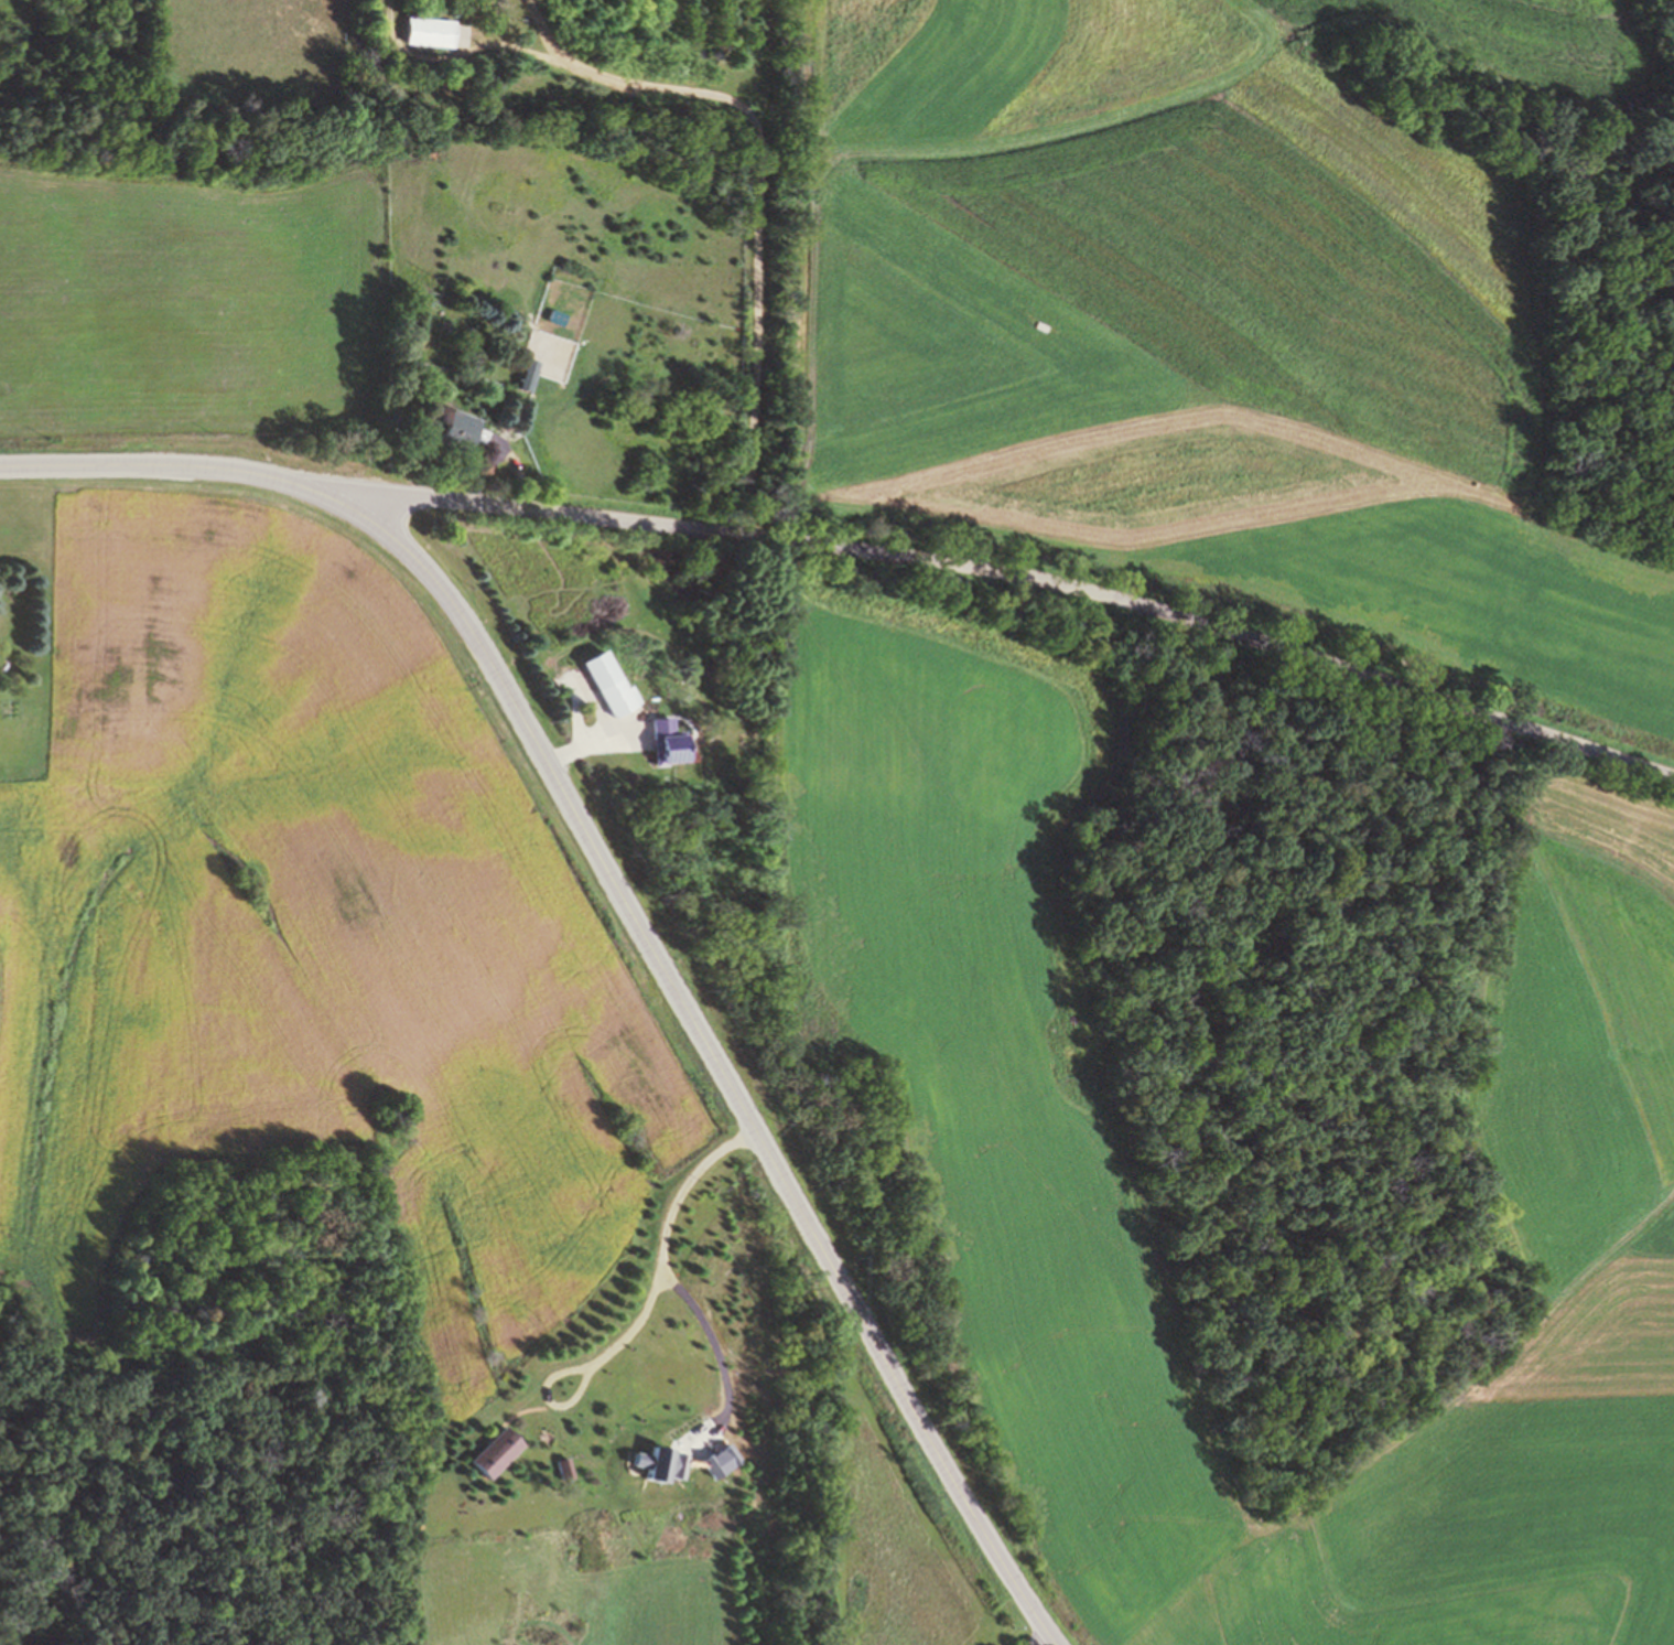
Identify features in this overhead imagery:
building: (429, 31)
road: (543, 33)
road: (456, 54)
road: (755, 227)
building: (526, 373)
building: (458, 433)
road: (1018, 576)
building: (609, 684)
building: (668, 744)
road: (585, 751)
road: (627, 907)
road: (644, 1310)
building: (498, 1452)
road: (1038, 1641)

